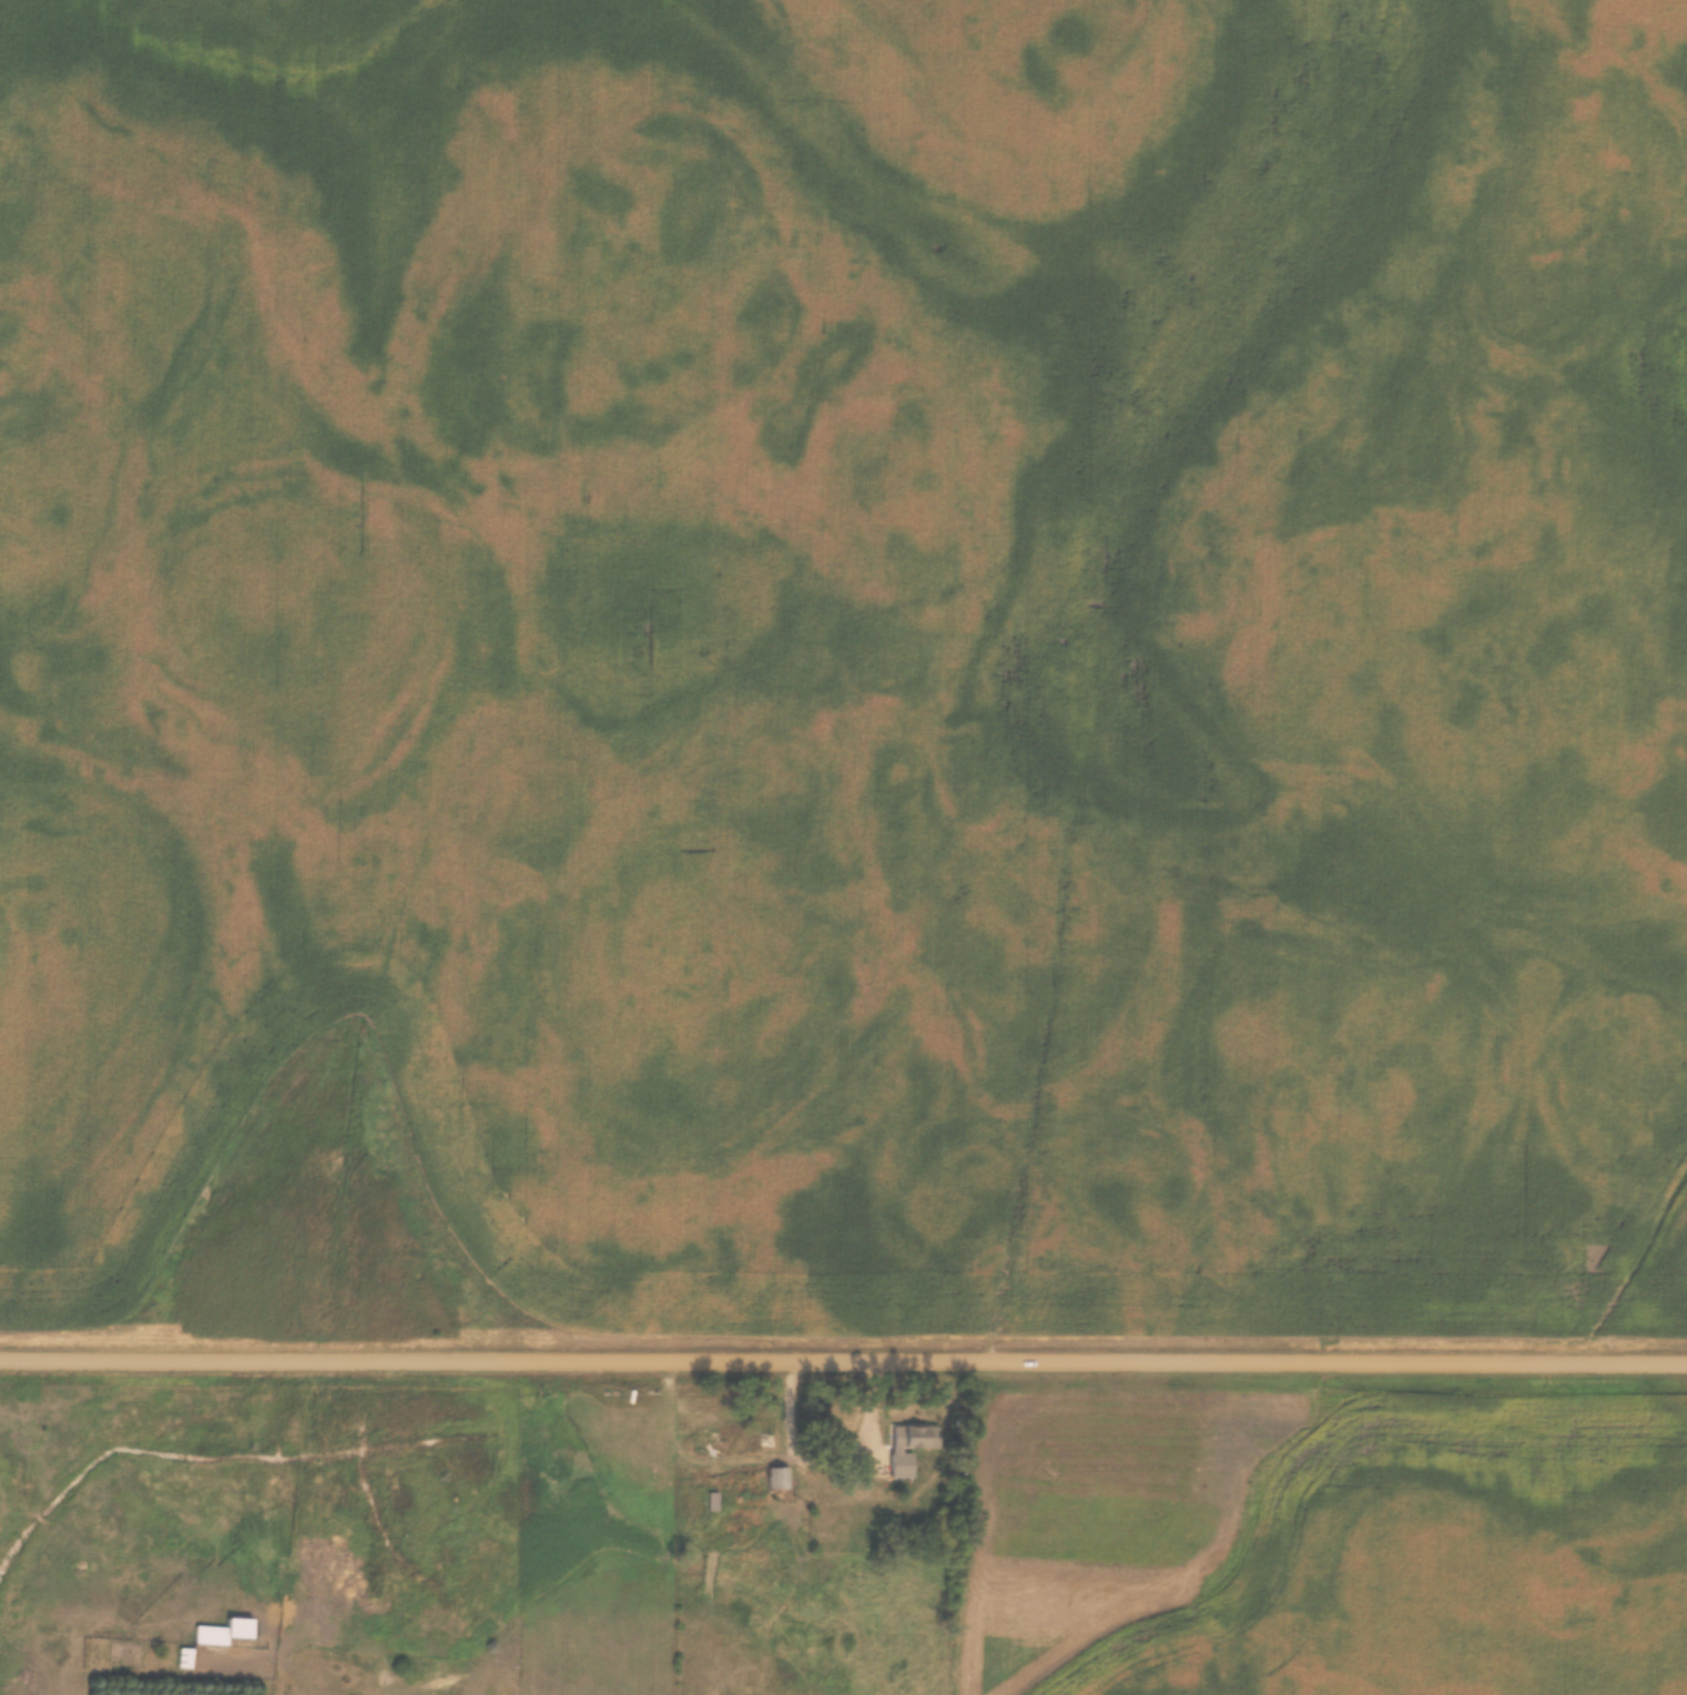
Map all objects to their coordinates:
road: (843, 1363)
building: (904, 1448)
building: (772, 1478)
building: (206, 1636)
building: (181, 1658)

